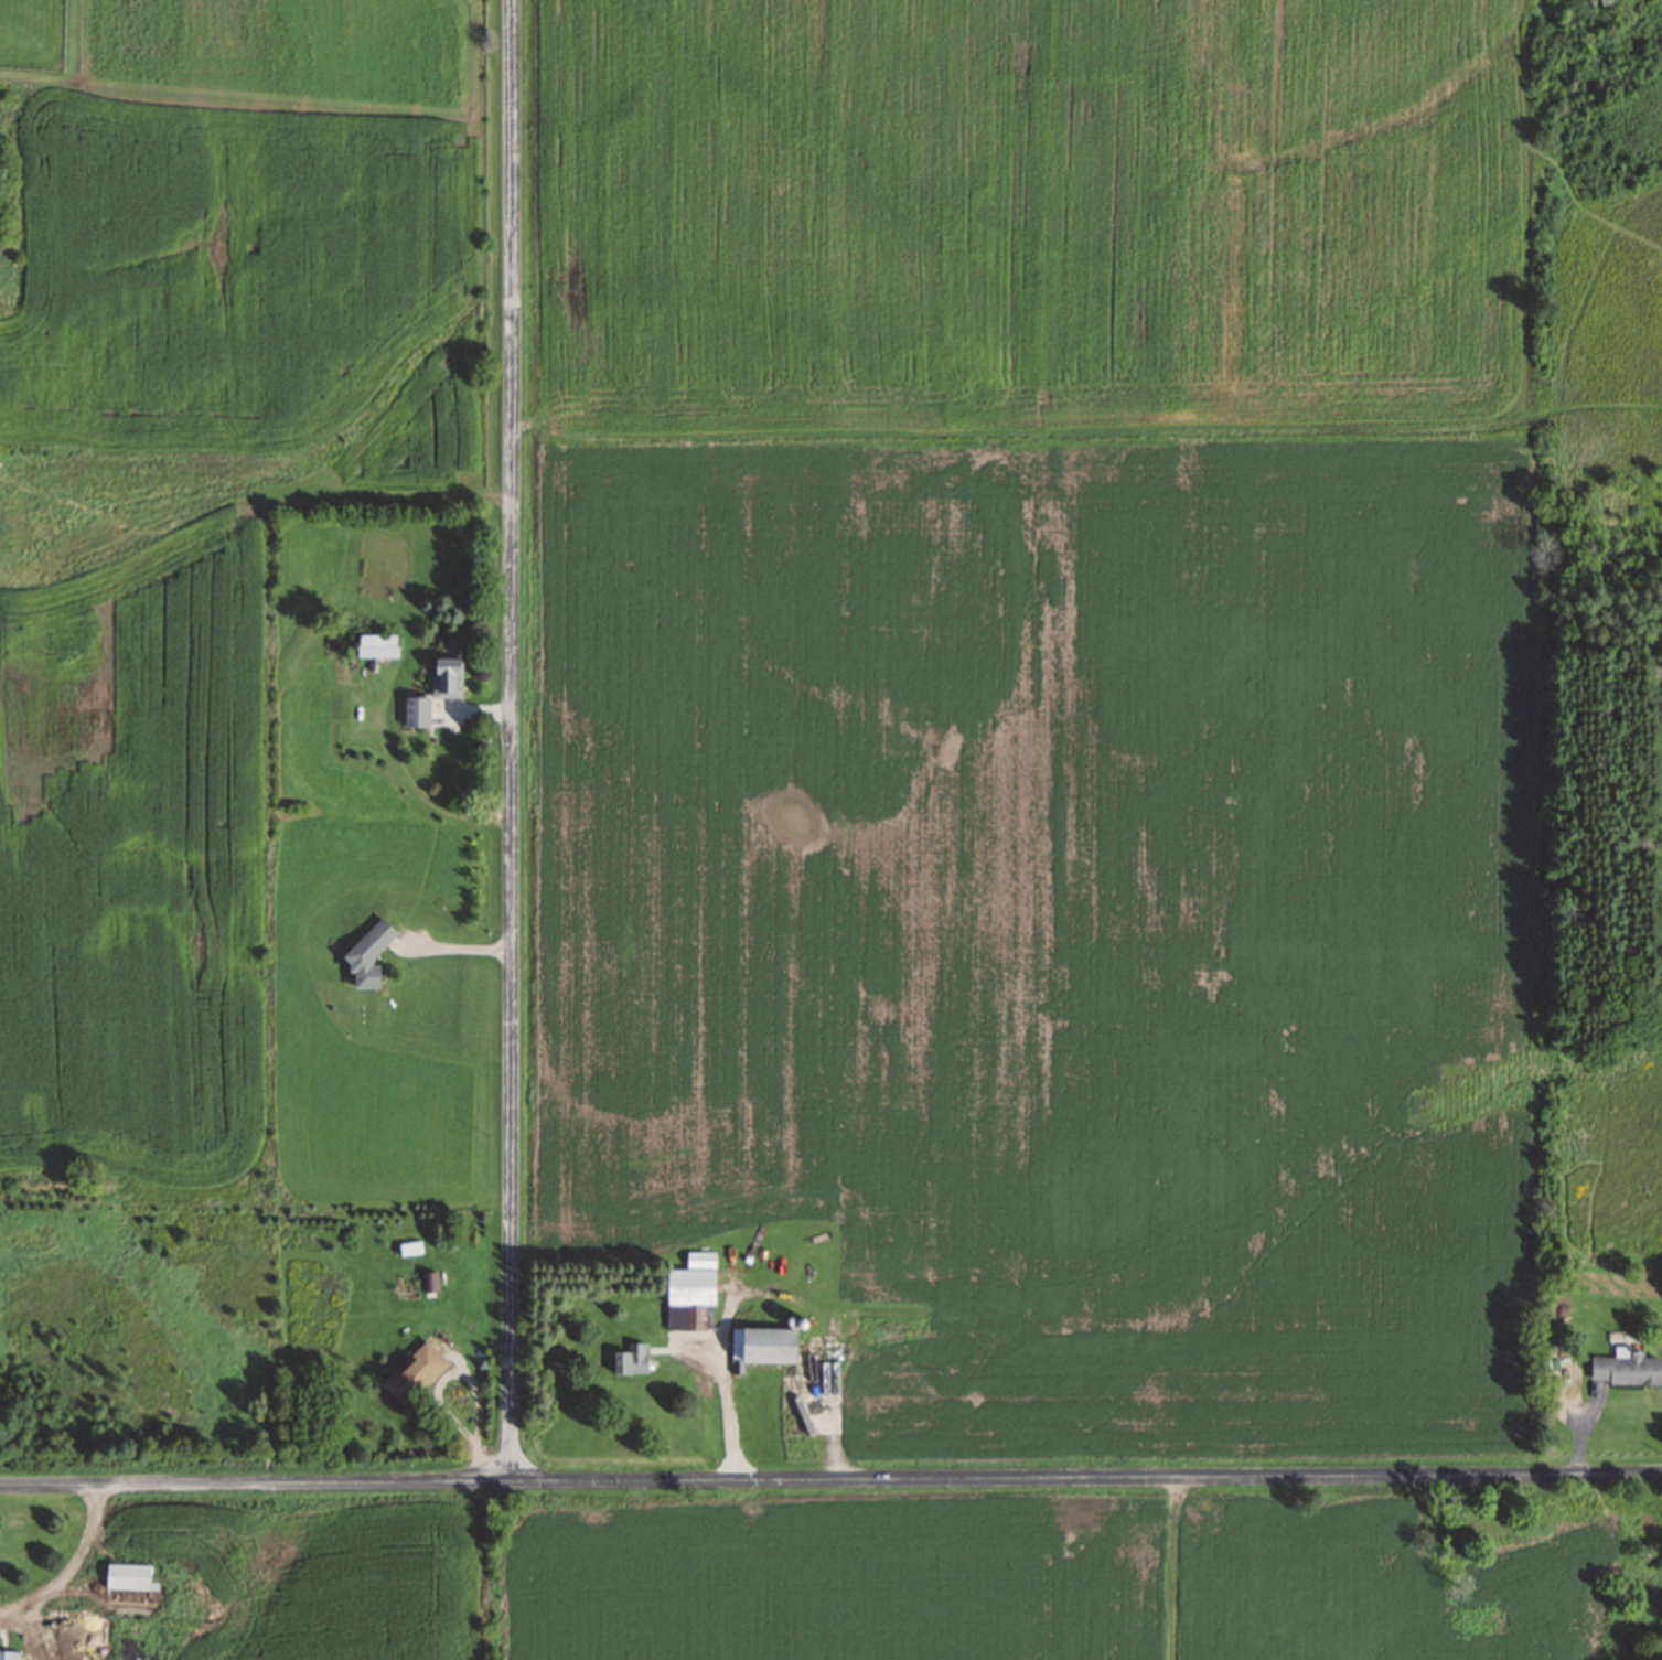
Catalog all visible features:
building: (377, 644)
building: (447, 677)
building: (415, 711)
road: (512, 739)
building: (367, 953)
building: (409, 1247)
building: (429, 1282)
building: (691, 1282)
building: (686, 1319)
building: (762, 1346)
building: (630, 1360)
building: (1626, 1369)
building: (416, 1371)
road: (830, 1479)
road: (69, 1563)
building: (127, 1577)
building: (9, 1656)

